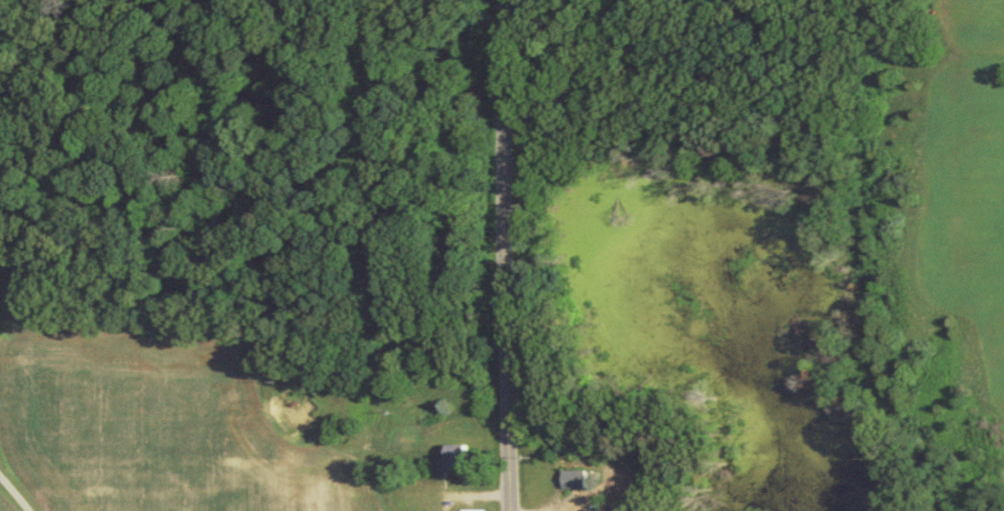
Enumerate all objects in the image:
road: (505, 255)
building: (458, 464)
building: (580, 487)
road: (12, 498)

